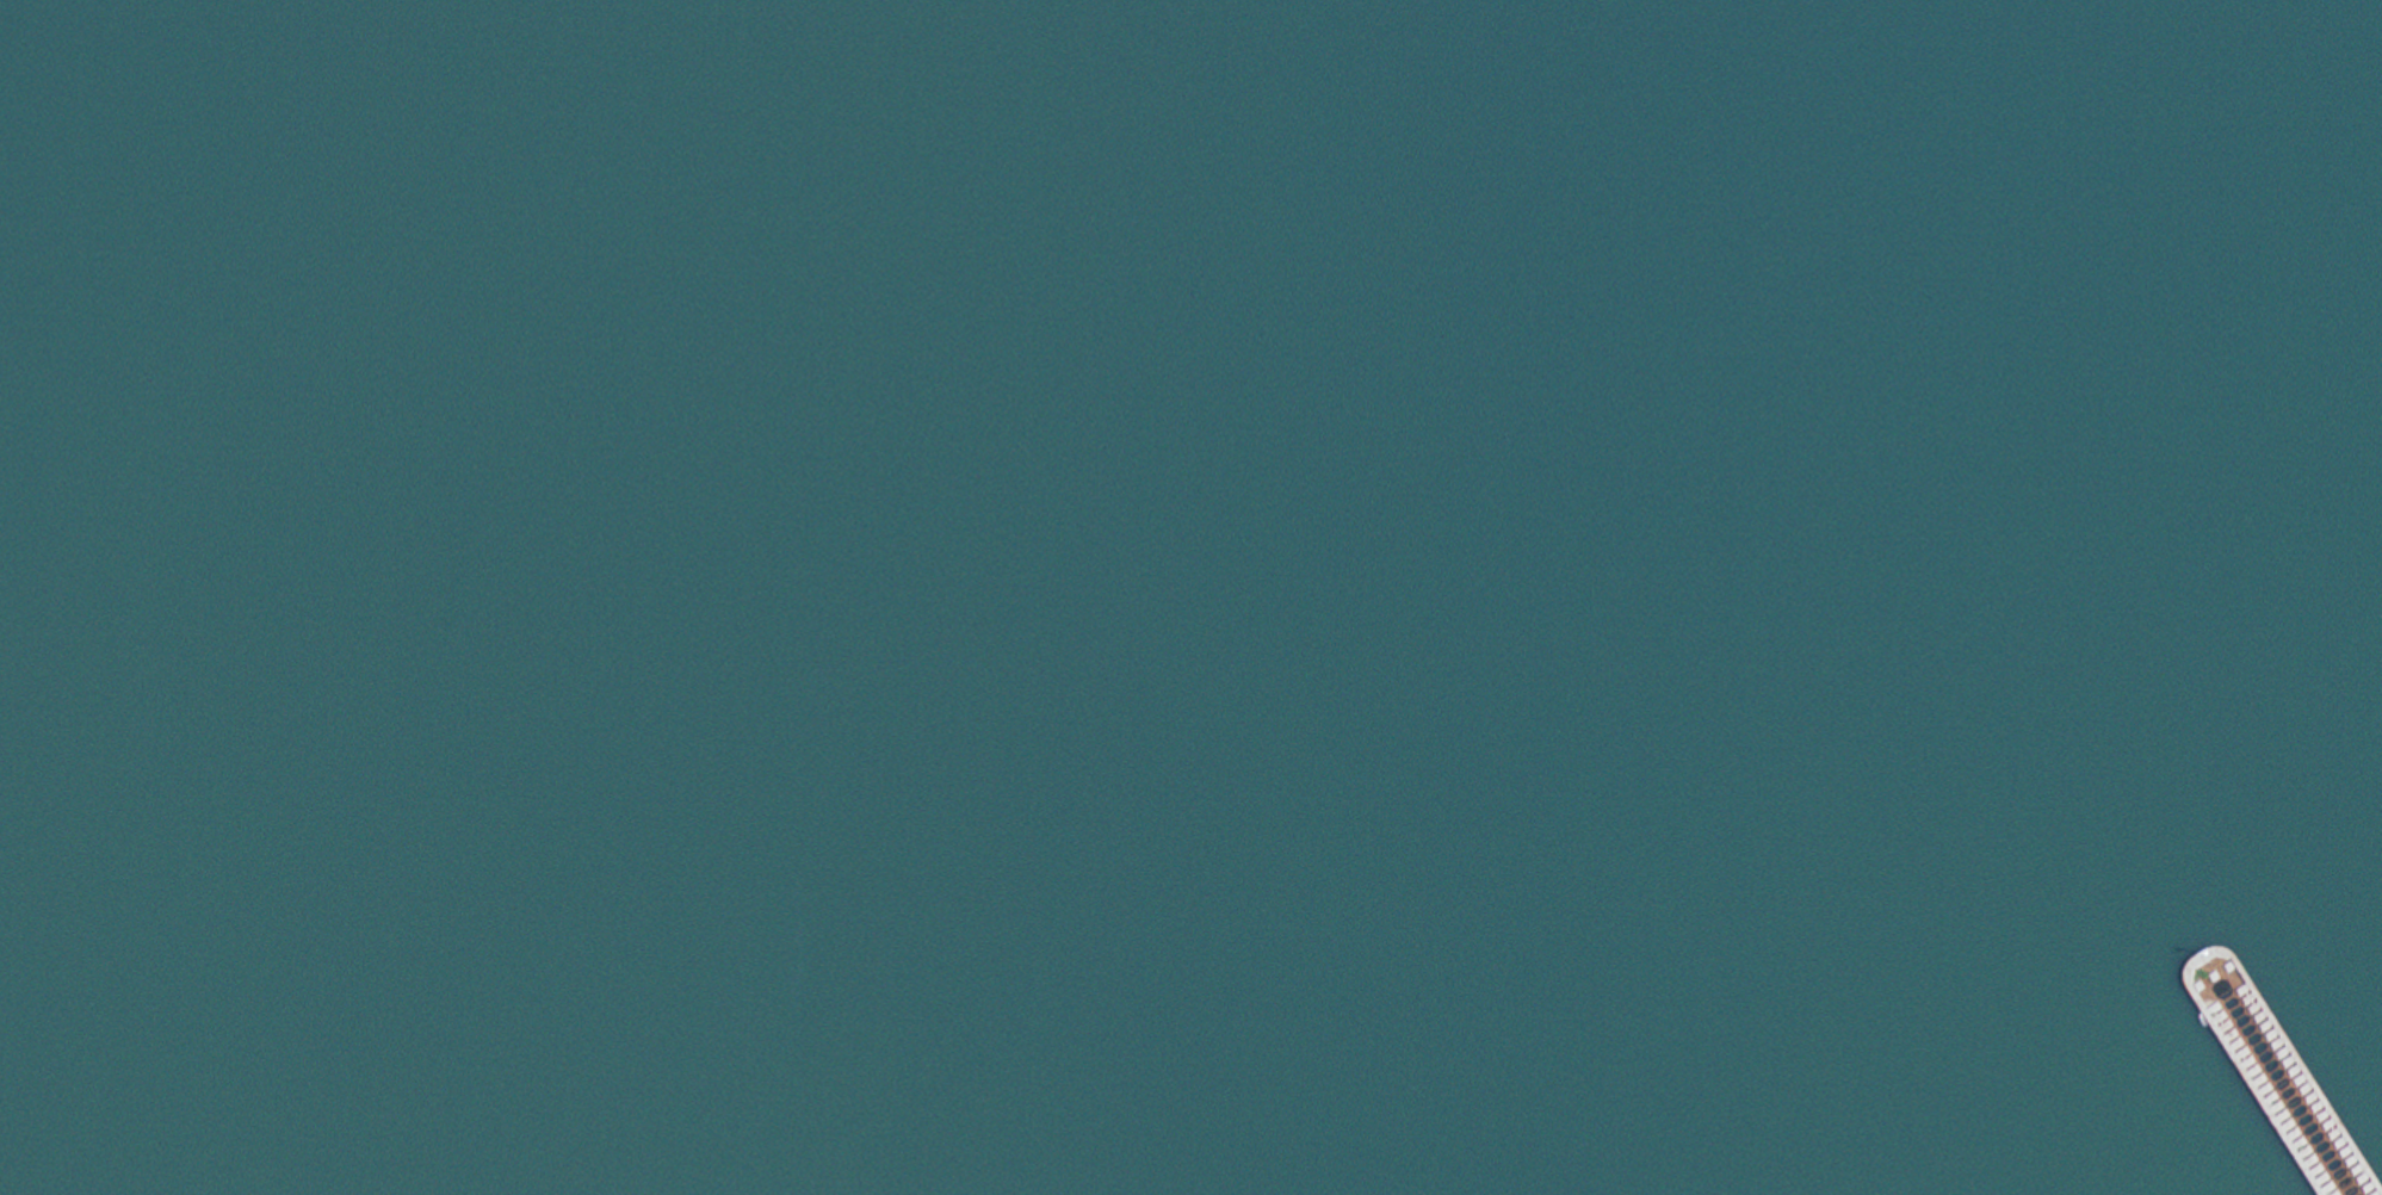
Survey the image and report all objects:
park: (2276, 1076)

